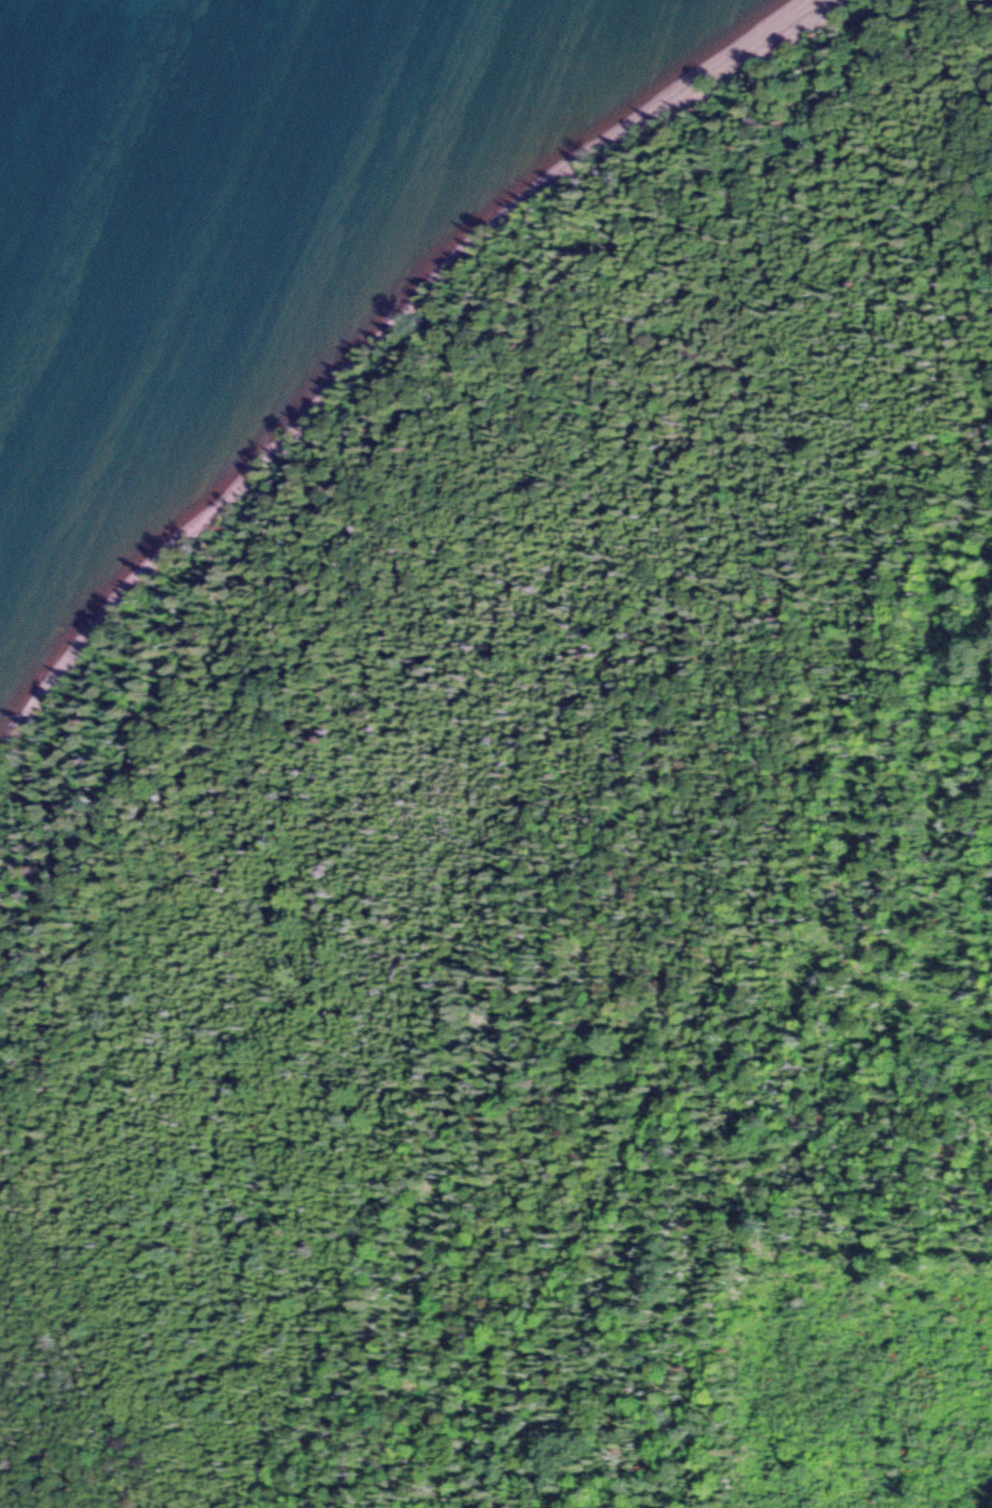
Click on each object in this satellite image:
park: (544, 852)
road: (984, 1497)

